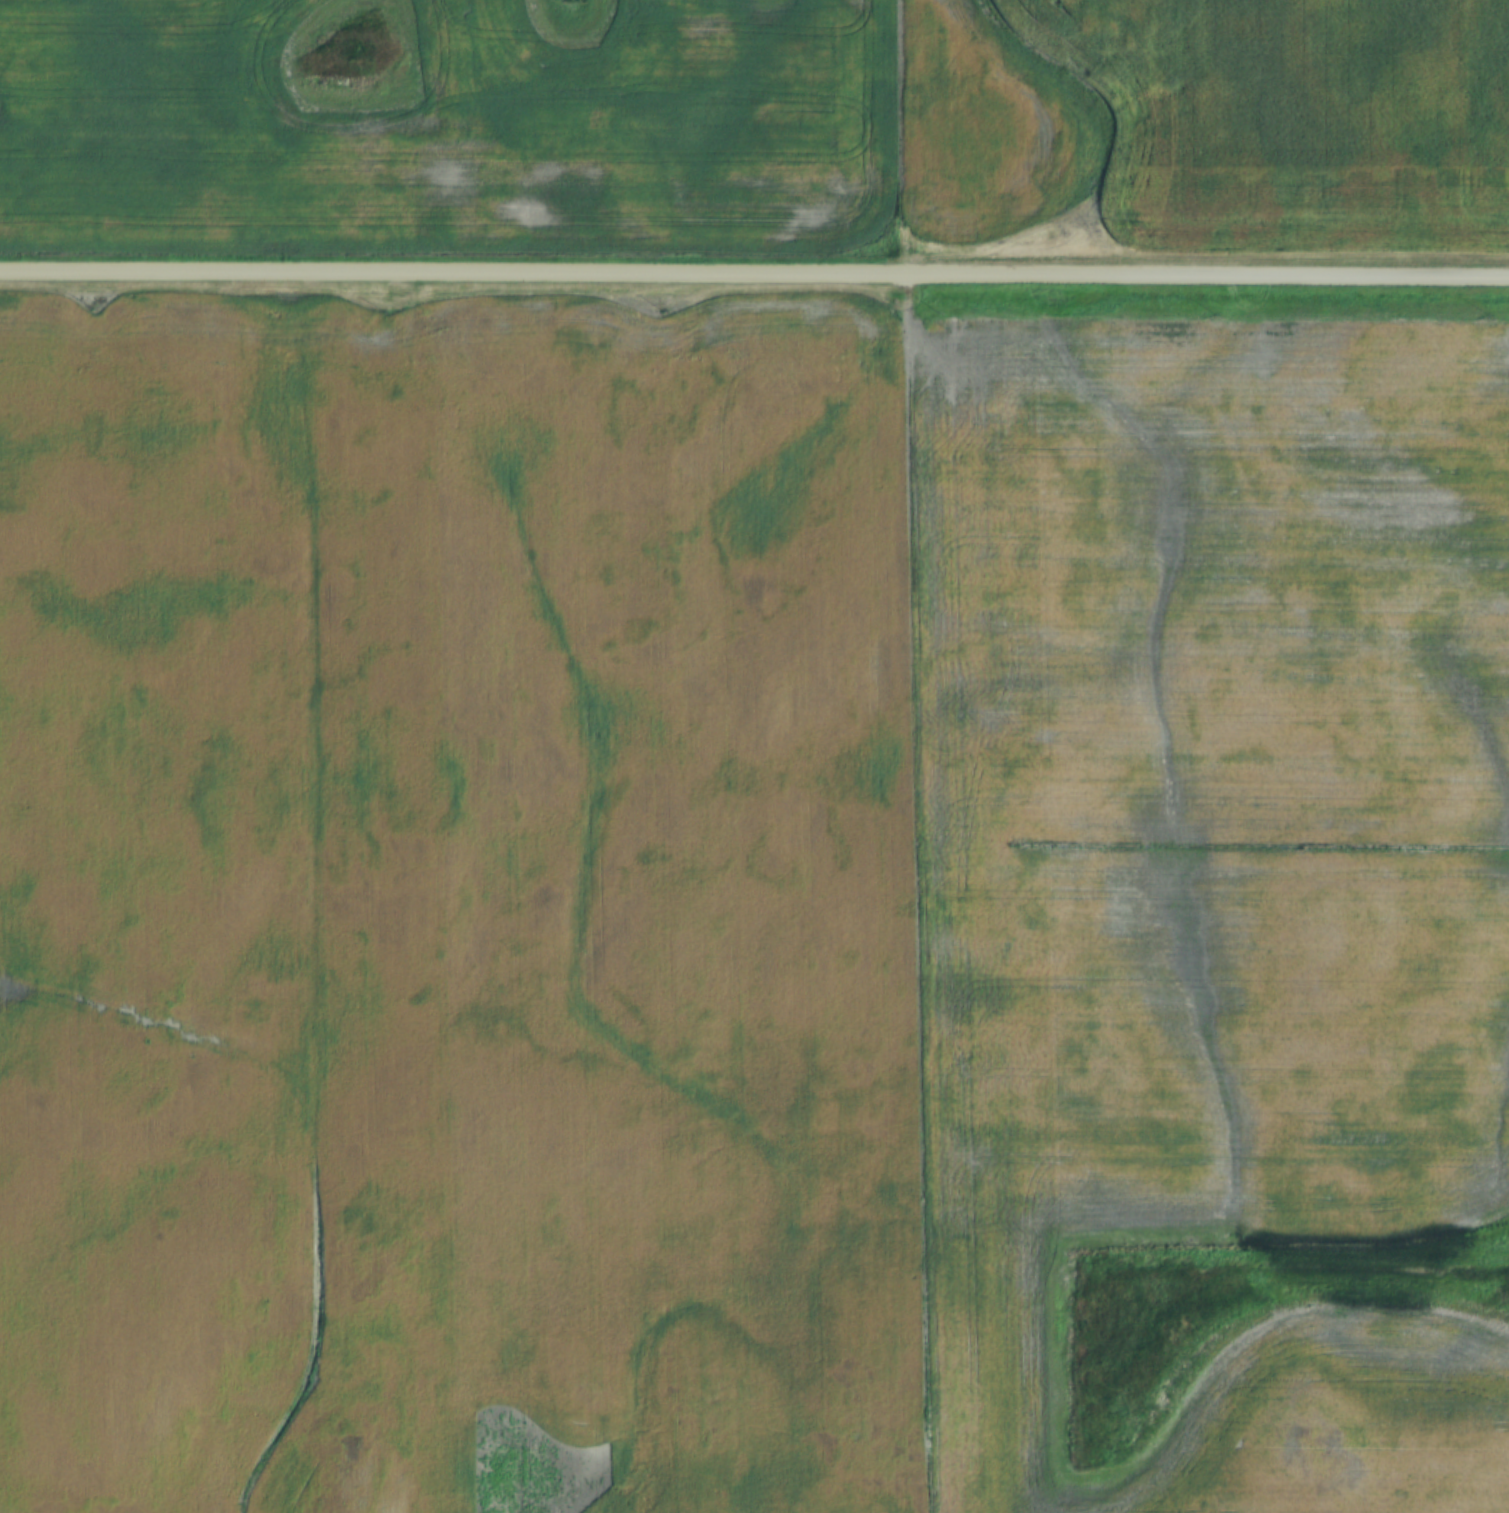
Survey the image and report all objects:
road: (754, 274)

